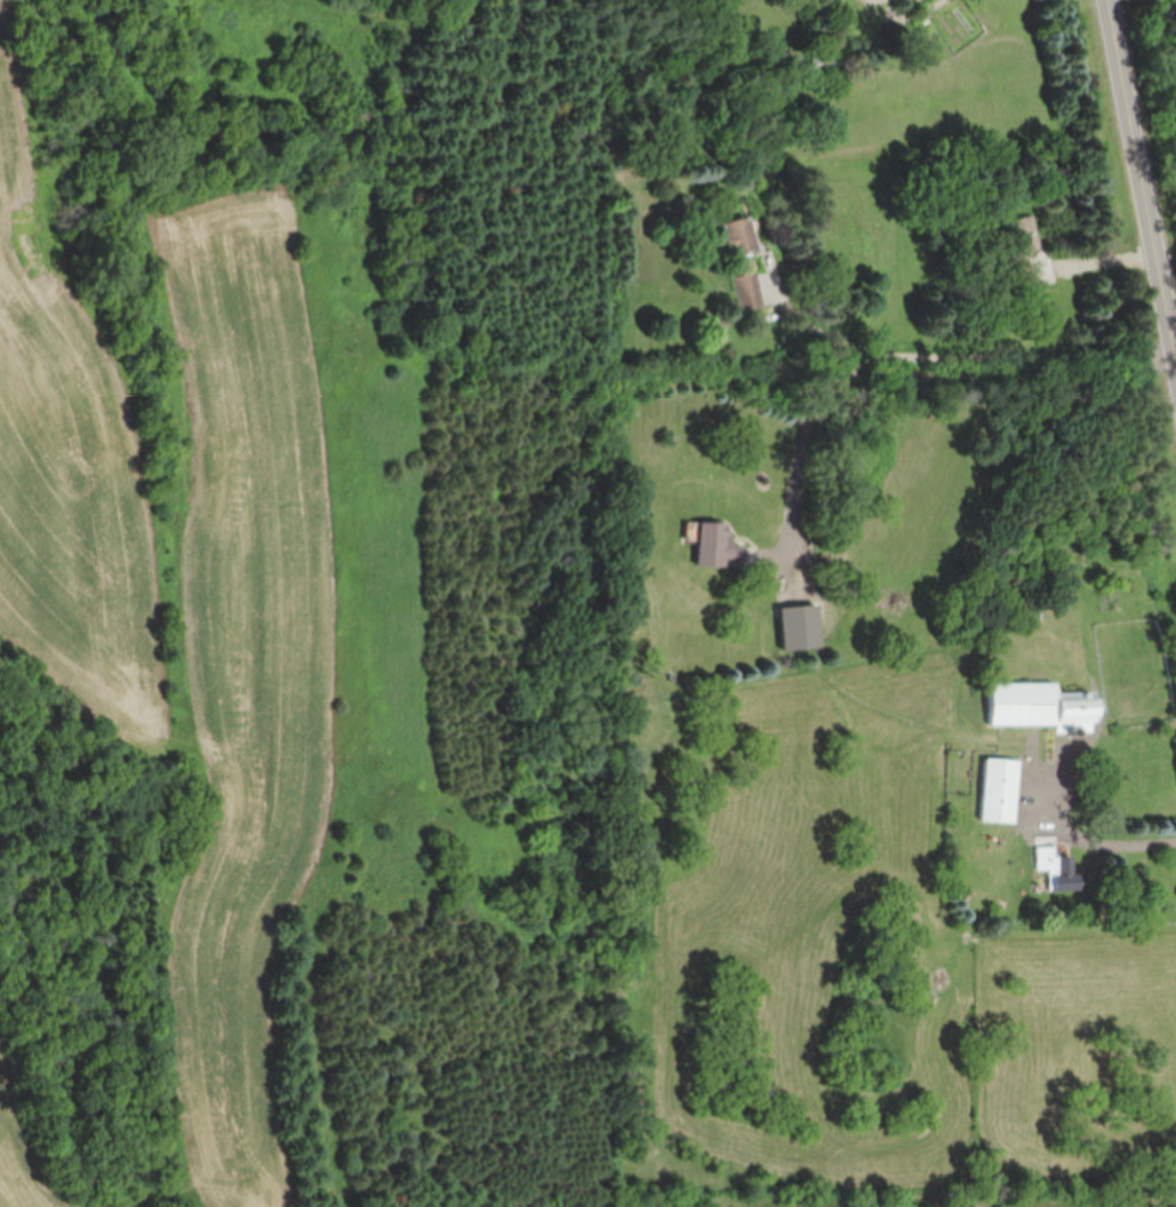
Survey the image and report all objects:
park: (1153, 115)
road: (1142, 173)
building: (737, 234)
building: (1035, 248)
building: (749, 290)
road: (984, 351)
road: (922, 368)
building: (719, 543)
building: (1043, 706)
building: (1000, 790)
road: (1093, 839)
building: (1048, 853)

